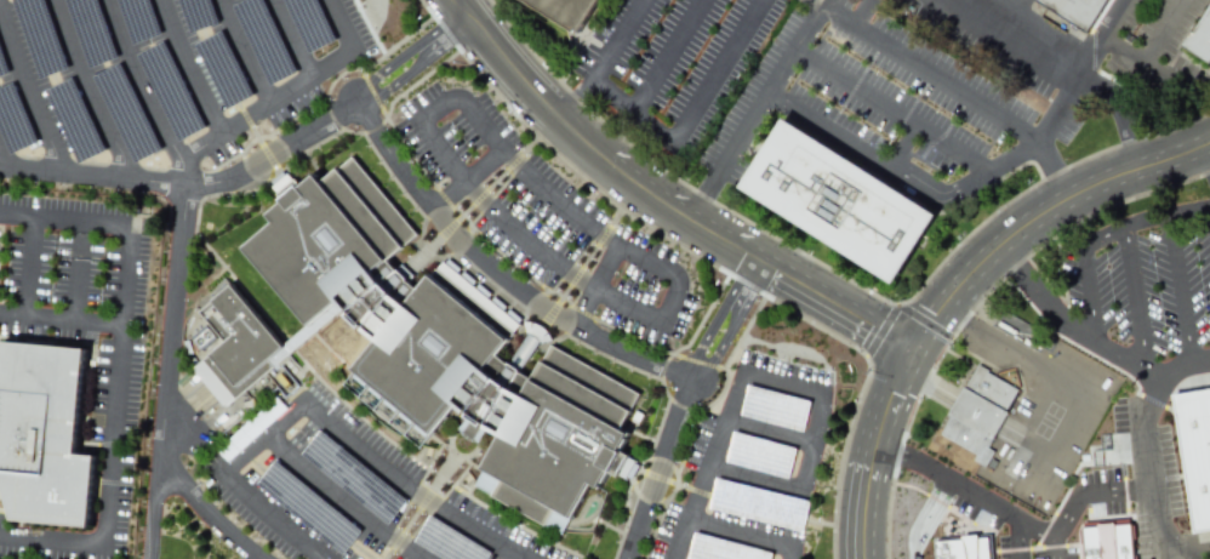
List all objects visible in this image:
building: (565, 10)
building: (1074, 11)
road: (318, 32)
road: (1097, 32)
building: (1200, 34)
road: (296, 36)
road: (406, 49)
road: (246, 50)
road: (793, 50)
road: (1151, 52)
road: (666, 55)
road: (1066, 56)
road: (189, 65)
road: (419, 65)
road: (921, 72)
road: (147, 86)
road: (29, 89)
road: (97, 89)
road: (572, 95)
road: (895, 107)
road: (1117, 110)
road: (480, 131)
road: (834, 133)
road: (661, 136)
road: (903, 144)
road: (2, 153)
road: (1205, 156)
road: (1050, 172)
road: (187, 181)
building: (839, 200)
road: (472, 203)
road: (661, 205)
road: (1040, 216)
road: (1100, 235)
road: (704, 261)
road: (27, 268)
road: (496, 269)
road: (73, 272)
road: (578, 272)
road: (835, 273)
road: (175, 274)
road: (593, 285)
road: (540, 286)
road: (1177, 290)
road: (750, 292)
road: (1134, 296)
road: (975, 306)
road: (638, 312)
road: (701, 318)
road: (714, 318)
road: (928, 318)
road: (59, 321)
road: (1089, 337)
building: (441, 347)
traffic signals: (915, 348)
road: (714, 353)
road: (1113, 366)
road: (114, 377)
road: (1055, 383)
road: (891, 395)
building: (980, 412)
road: (818, 416)
road: (181, 427)
road: (769, 430)
building: (44, 435)
road: (274, 438)
building: (1195, 450)
road: (873, 455)
road: (1148, 462)
road: (395, 468)
road: (657, 470)
road: (869, 473)
road: (209, 510)
road: (1020, 512)
road: (863, 520)
road: (713, 529)
building: (1107, 540)
road: (678, 541)
building: (963, 548)
road: (1192, 557)

